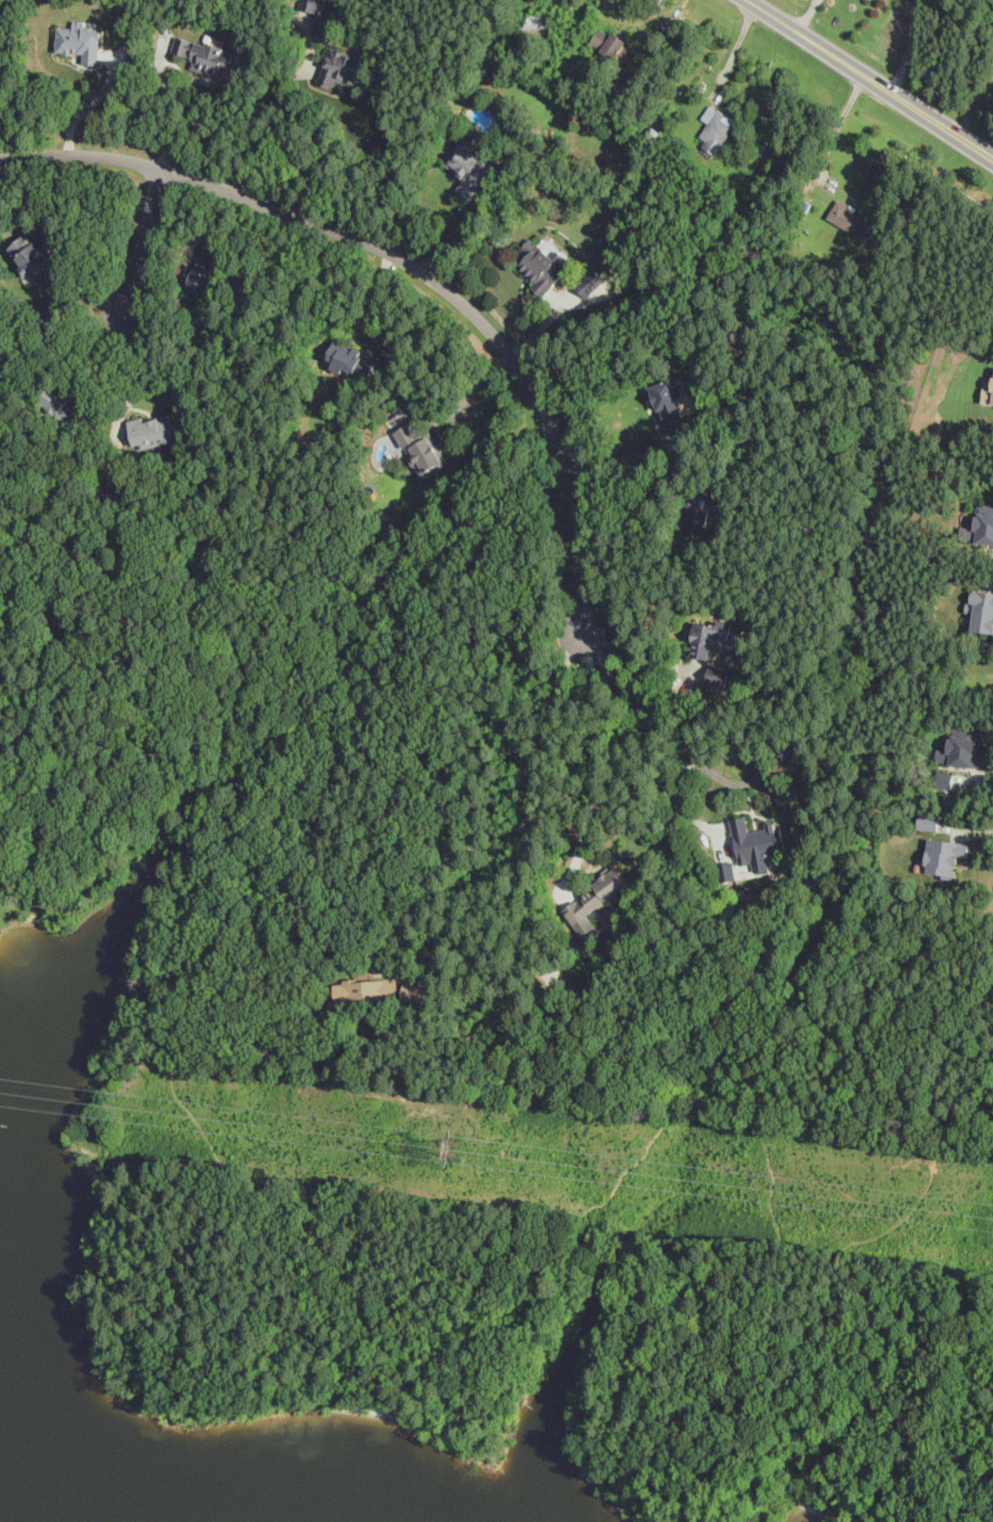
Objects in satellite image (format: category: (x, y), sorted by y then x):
building: (312, 5)
road: (639, 11)
road: (806, 15)
building: (536, 25)
building: (80, 41)
building: (613, 45)
road: (732, 55)
building: (205, 56)
building: (341, 68)
road: (870, 79)
road: (725, 109)
road: (86, 110)
road: (973, 111)
road: (169, 122)
building: (717, 129)
road: (261, 133)
road: (836, 133)
building: (470, 168)
road: (851, 195)
building: (801, 205)
building: (847, 217)
road: (451, 236)
road: (142, 247)
building: (33, 258)
building: (543, 265)
road: (407, 271)
building: (205, 272)
road: (376, 317)
building: (351, 359)
road: (139, 360)
building: (988, 394)
road: (467, 396)
building: (672, 408)
building: (151, 431)
building: (423, 449)
road: (617, 461)
building: (699, 516)
building: (980, 525)
road: (992, 592)
building: (982, 612)
building: (713, 637)
road: (636, 654)
road: (649, 737)
road: (990, 749)
building: (964, 750)
road: (597, 755)
road: (978, 773)
road: (973, 779)
building: (945, 781)
building: (929, 823)
road: (966, 831)
road: (965, 834)
building: (754, 841)
building: (944, 856)
road: (974, 856)
building: (596, 900)
road: (518, 928)
building: (368, 991)
building: (415, 993)
power tower: (456, 1146)
road: (351, 1353)

